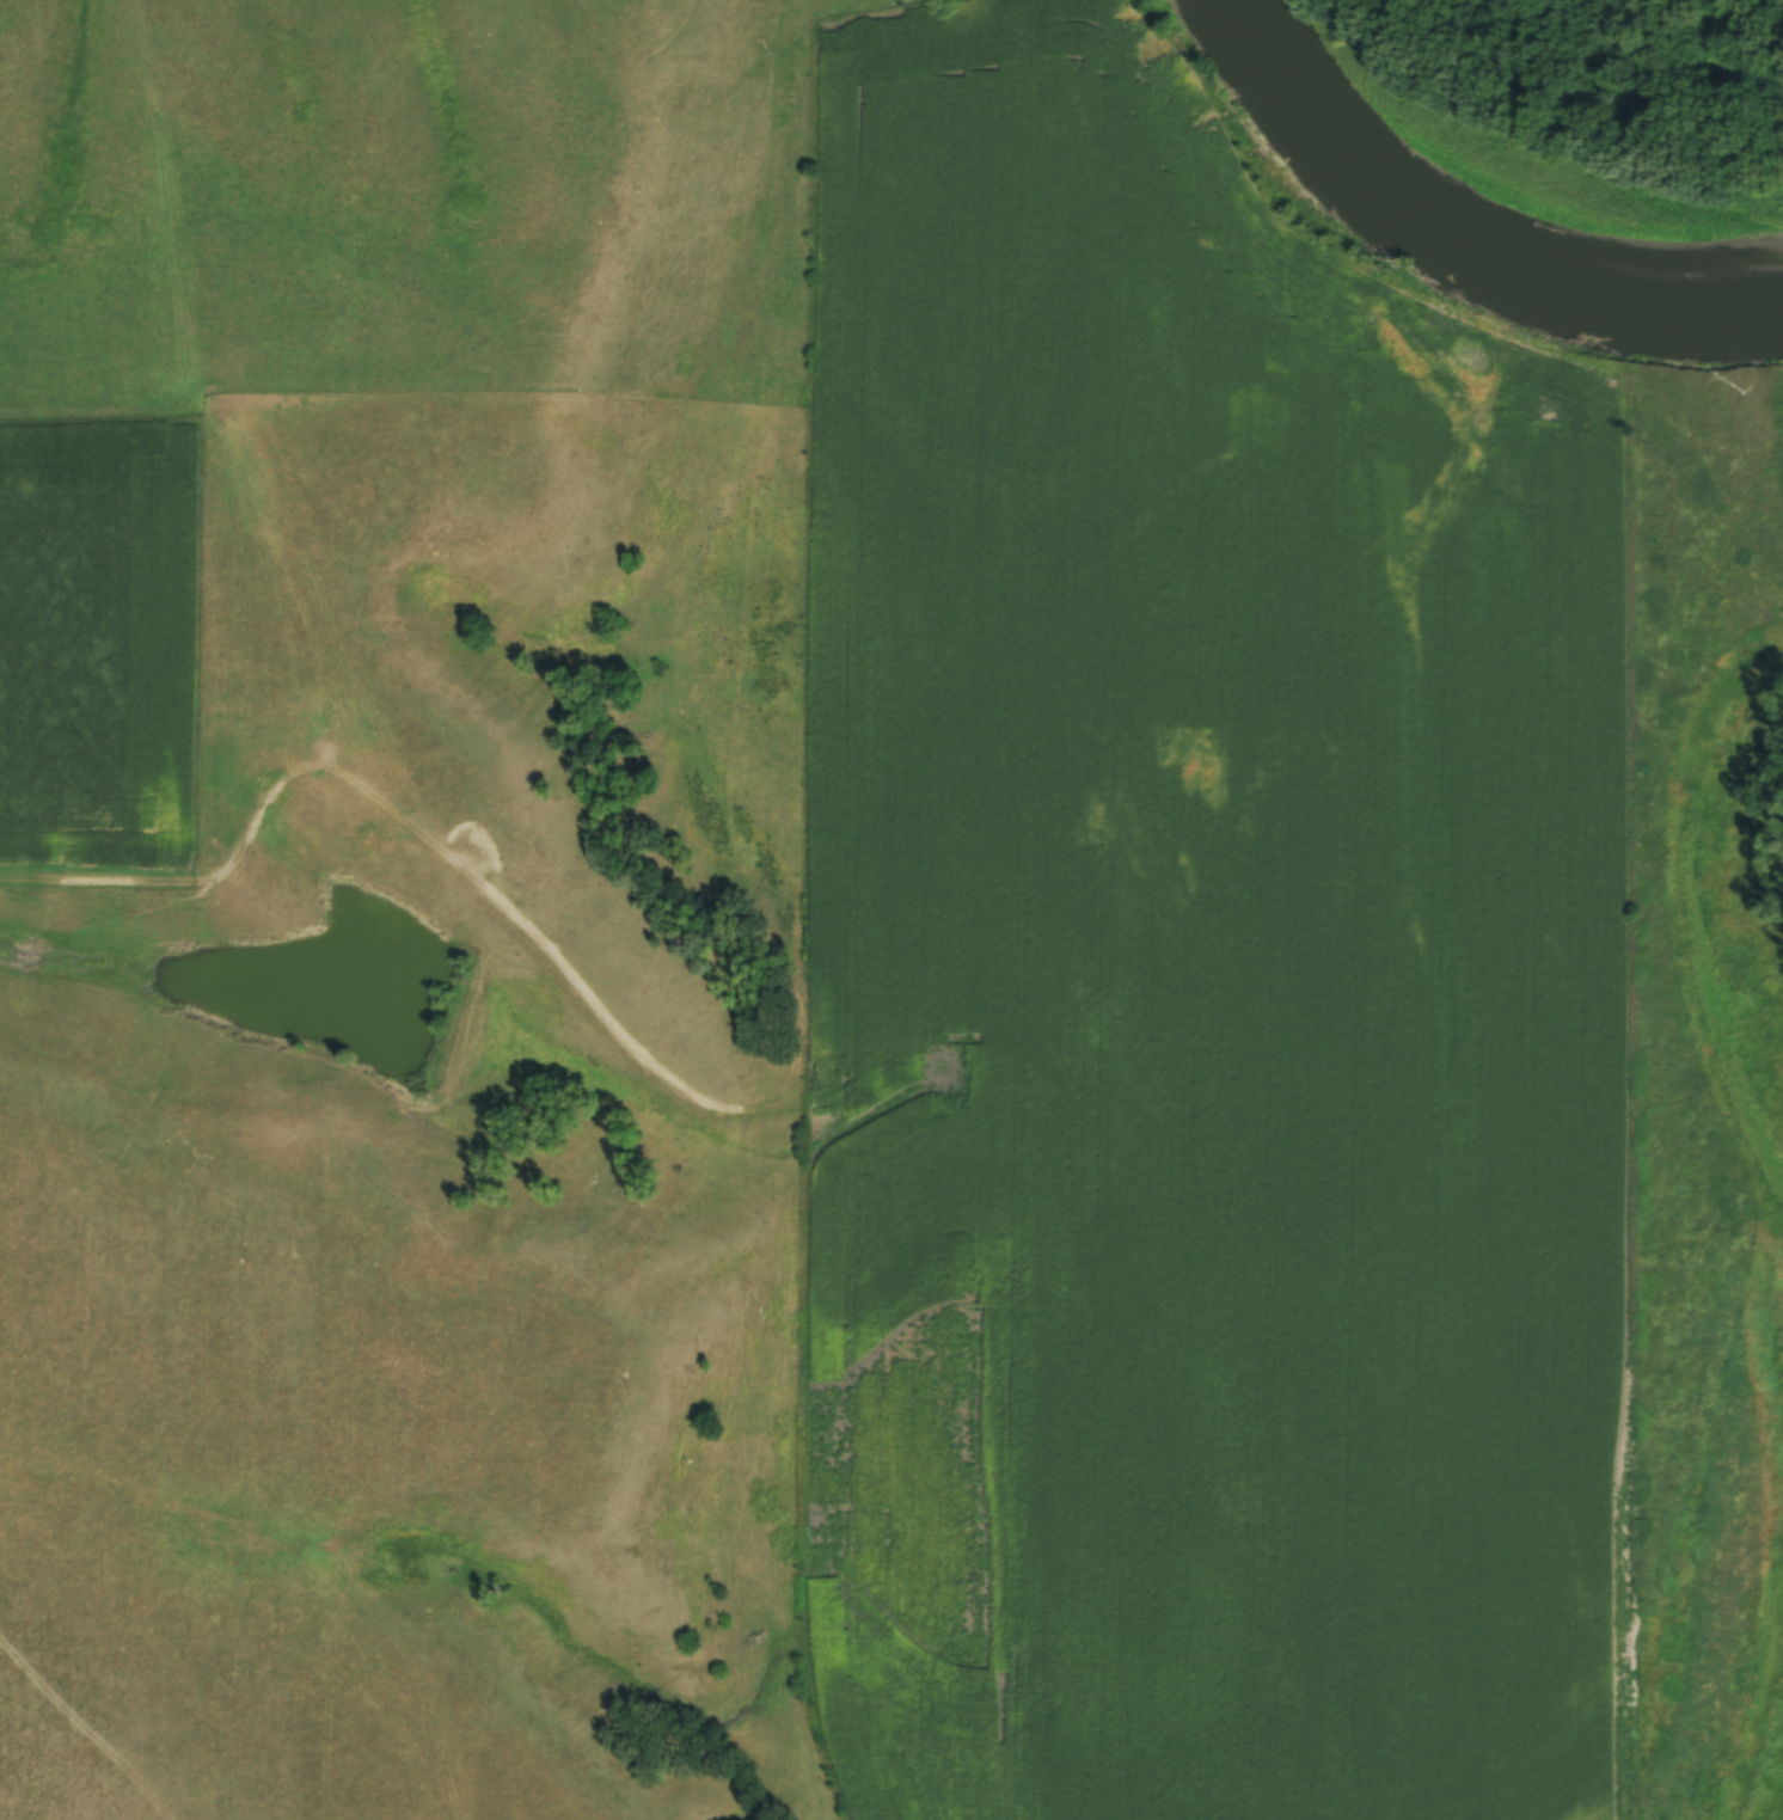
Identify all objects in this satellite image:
river: (1472, 216)
crop: (1211, 970)

